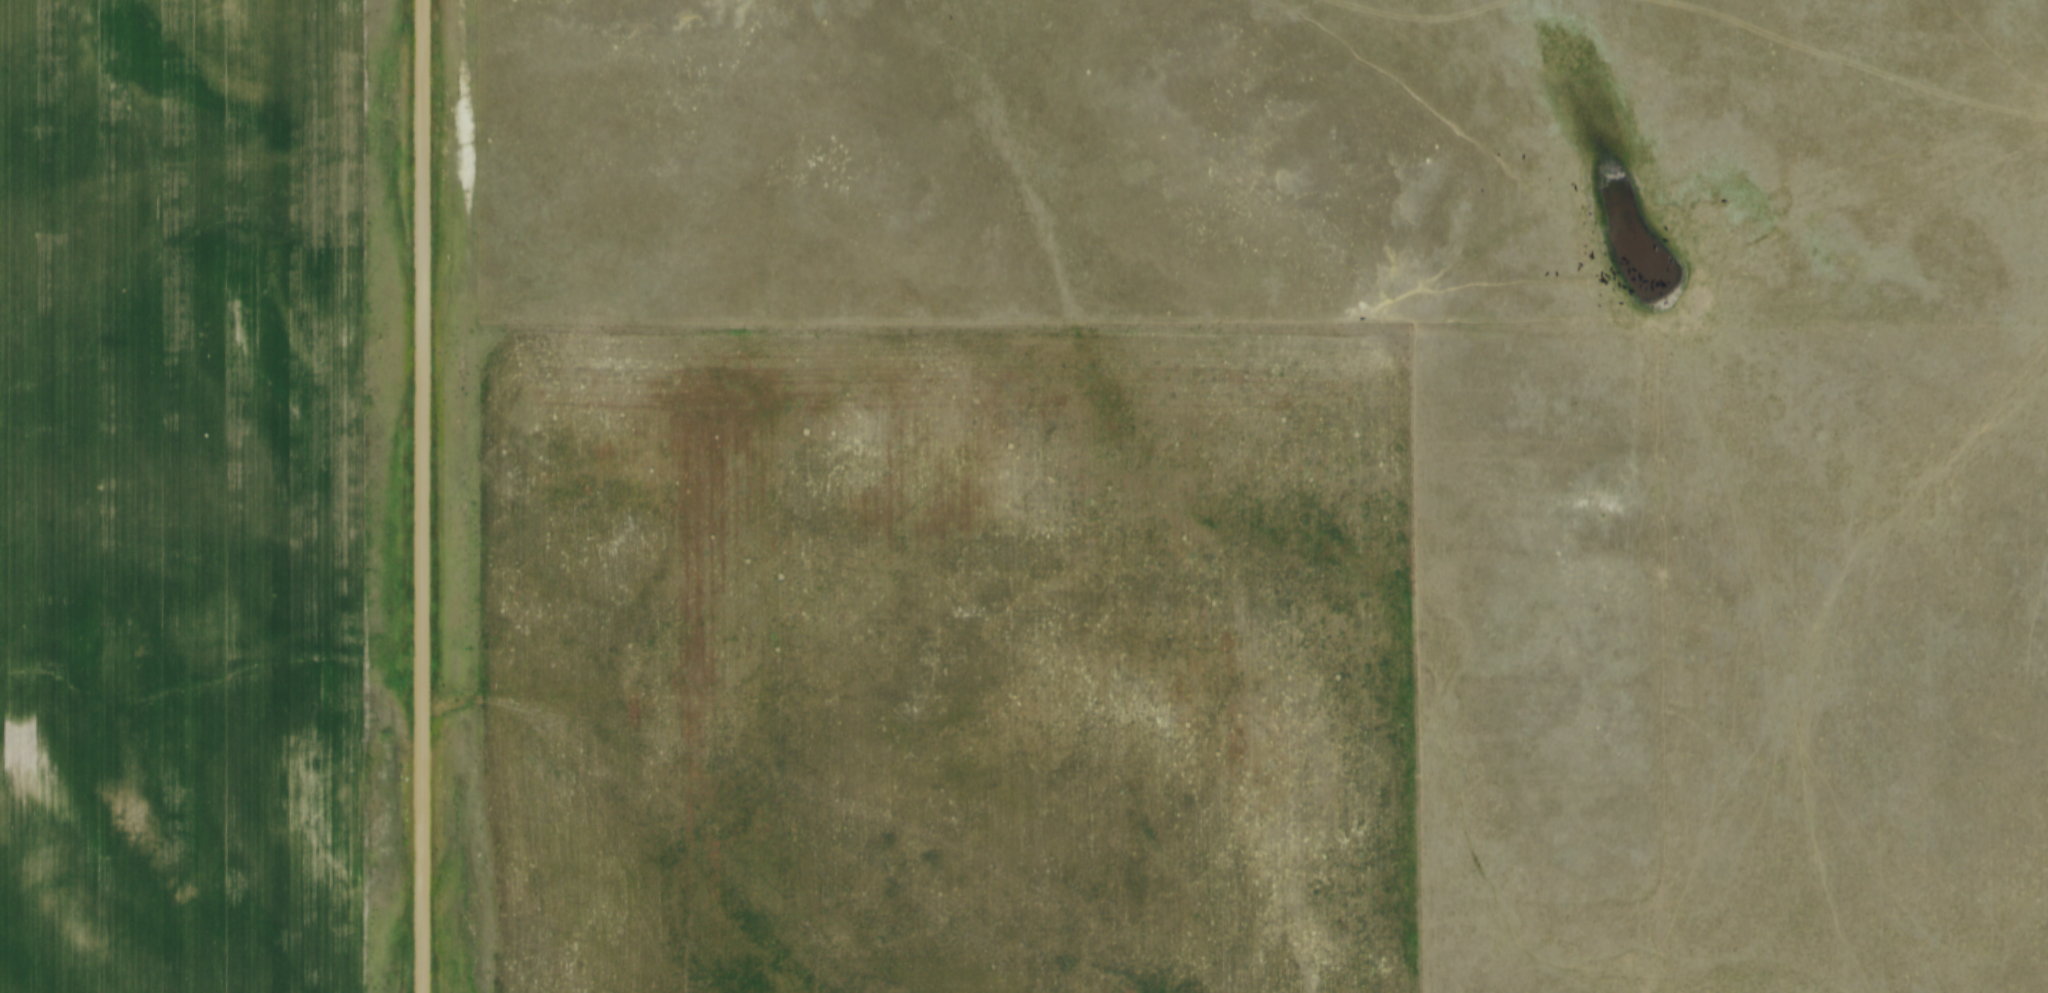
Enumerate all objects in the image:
road: (417, 496)

